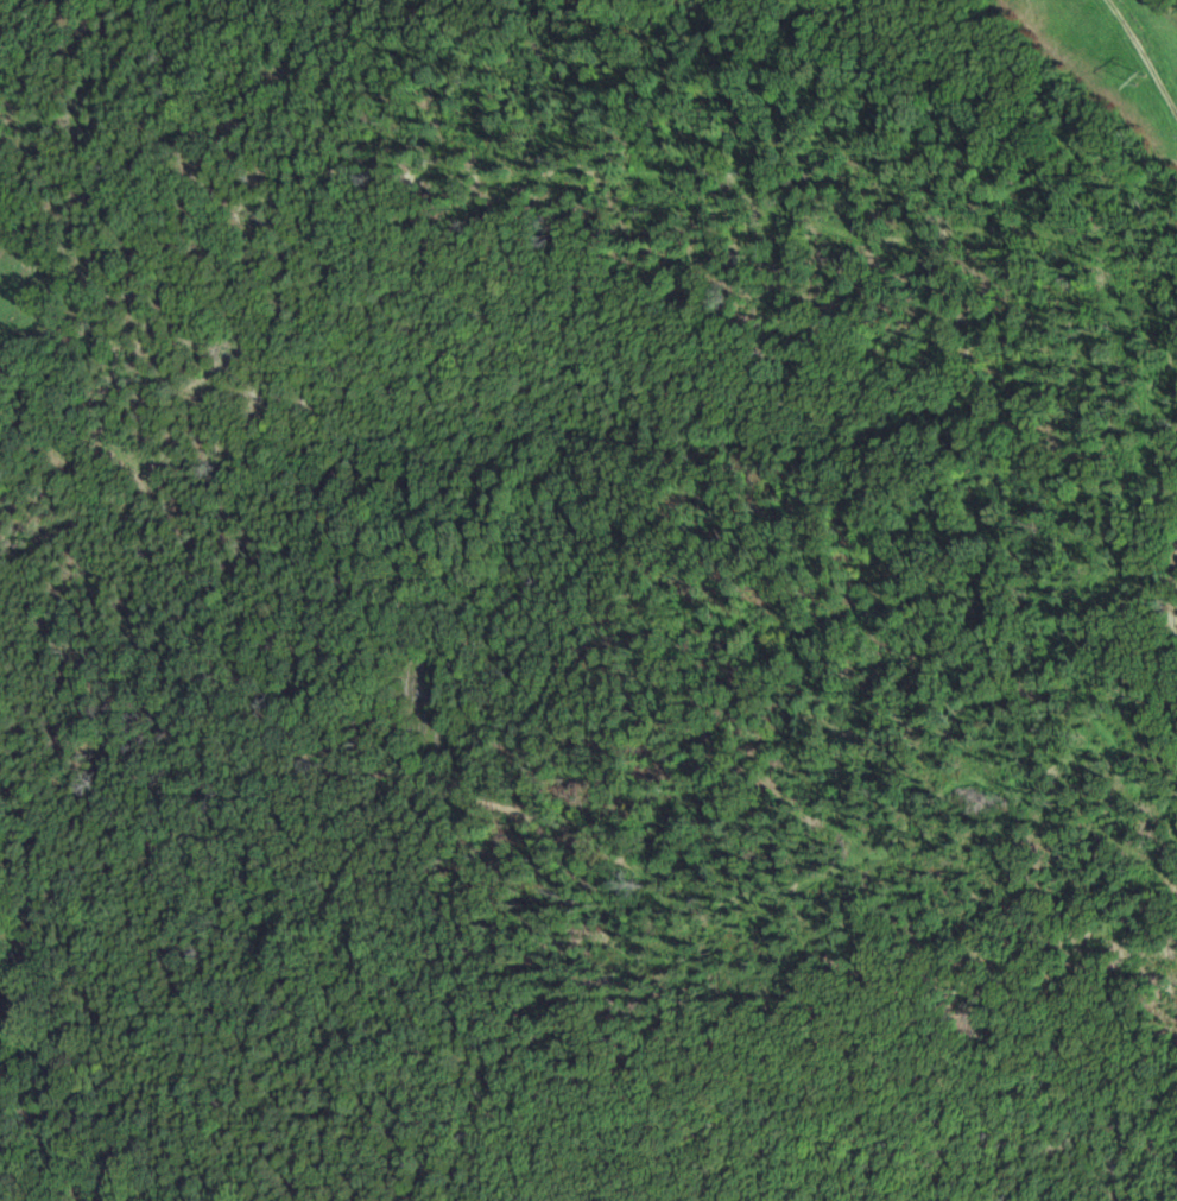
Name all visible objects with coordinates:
power tower: (1140, 77)

